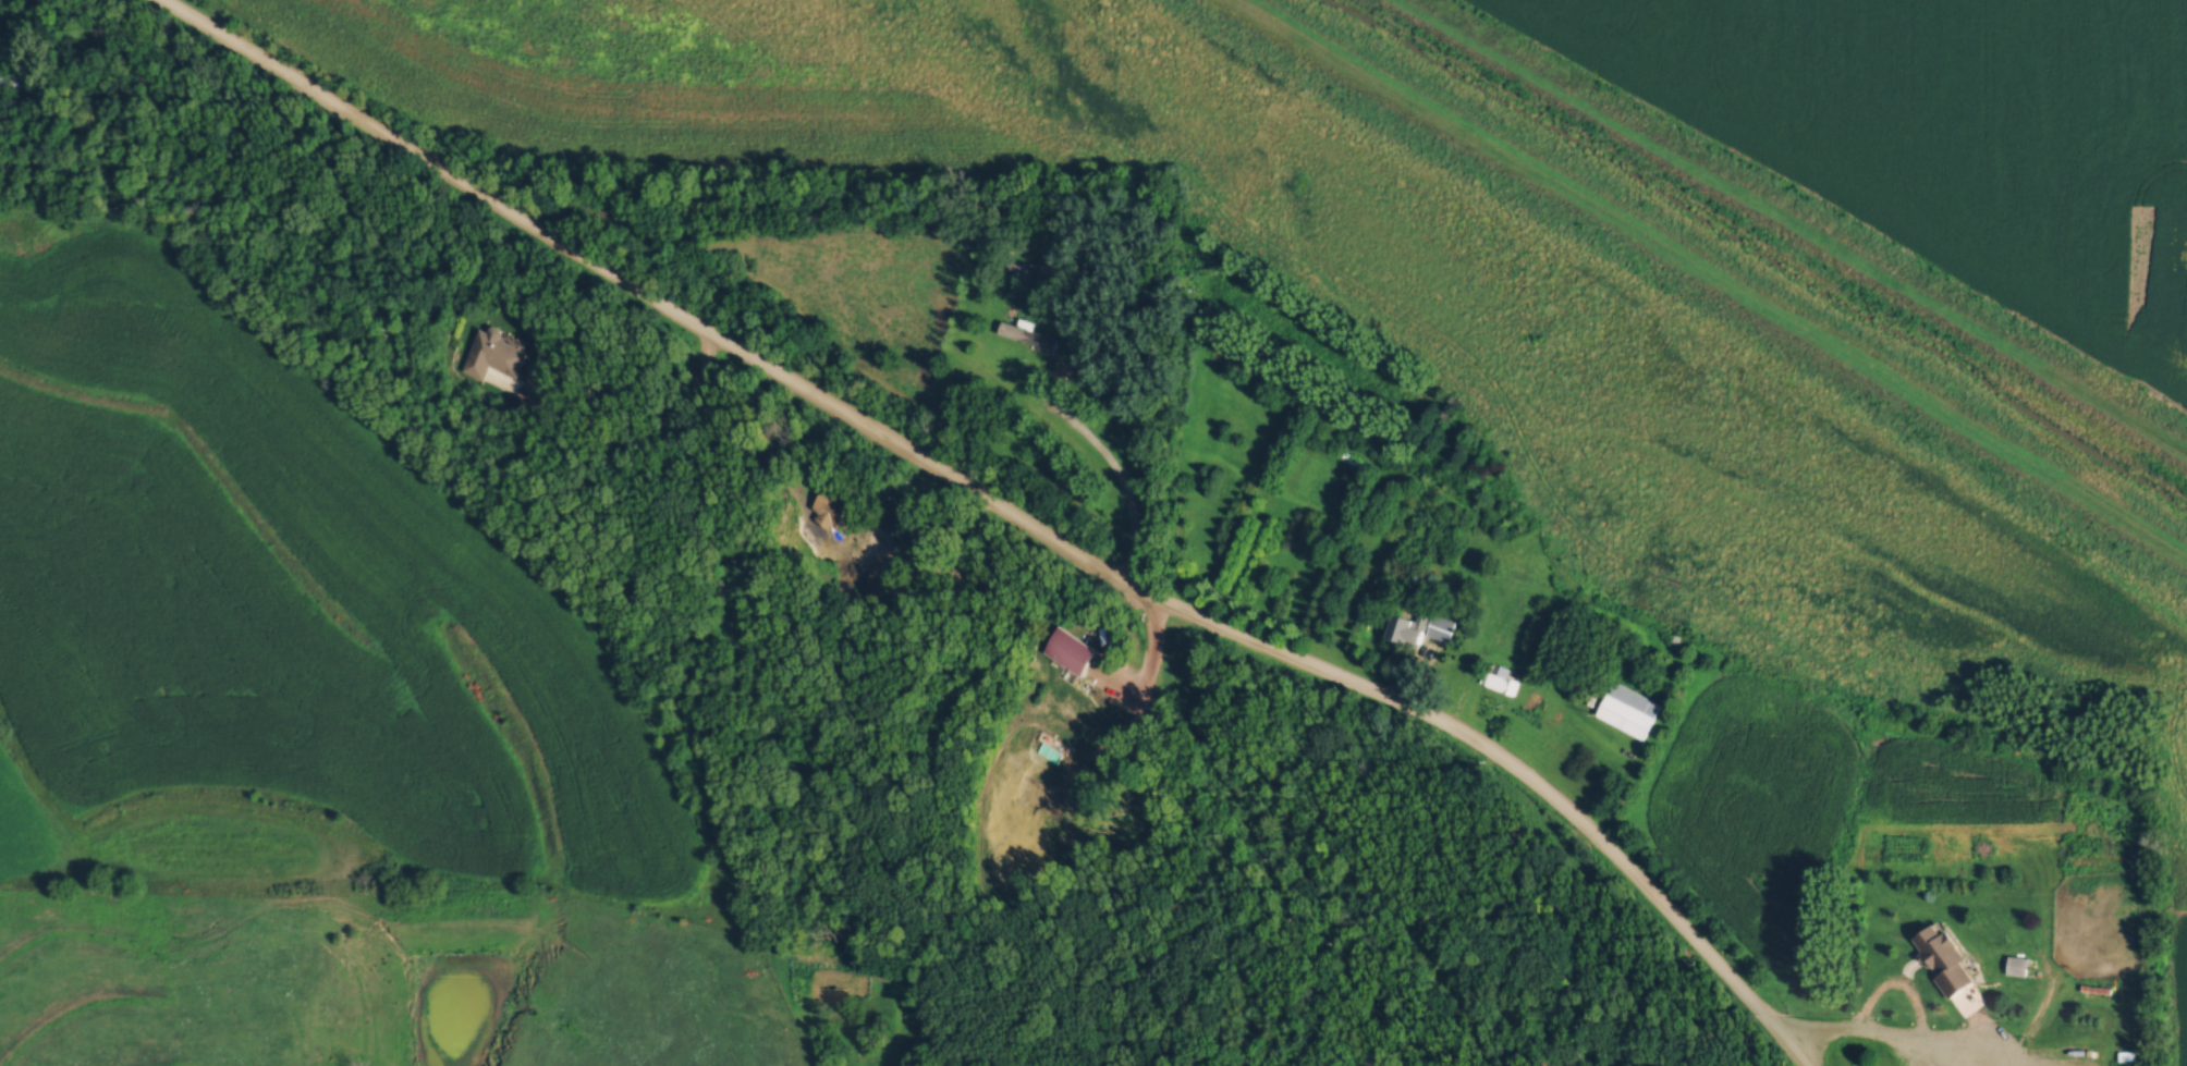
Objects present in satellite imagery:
building: (0, 69)
building: (1035, 265)
building: (1026, 330)
building: (487, 352)
road: (693, 438)
road: (1108, 464)
building: (822, 505)
road: (994, 517)
building: (856, 555)
building: (1409, 621)
building: (1070, 648)
road: (1510, 664)
building: (1492, 678)
building: (1627, 706)
building: (1945, 955)
road: (1860, 1026)

